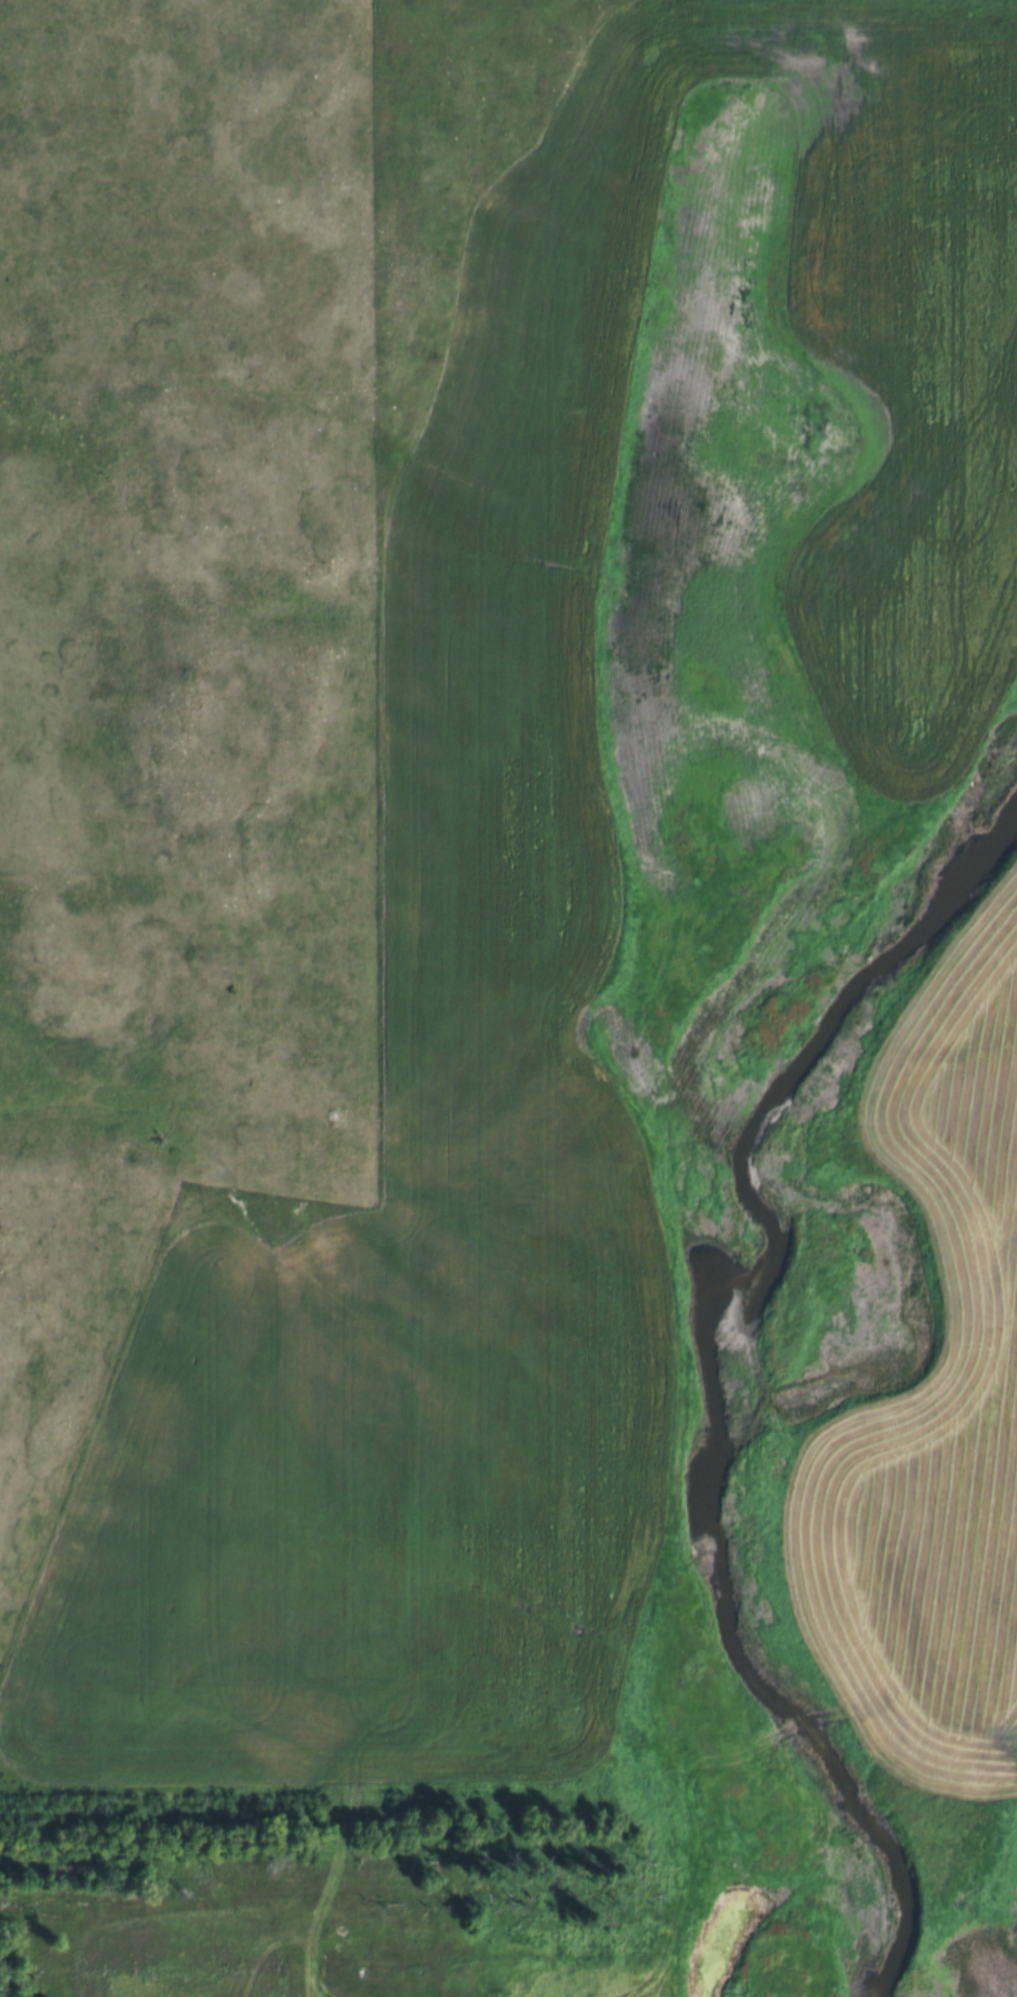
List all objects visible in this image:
river: (709, 1366)

